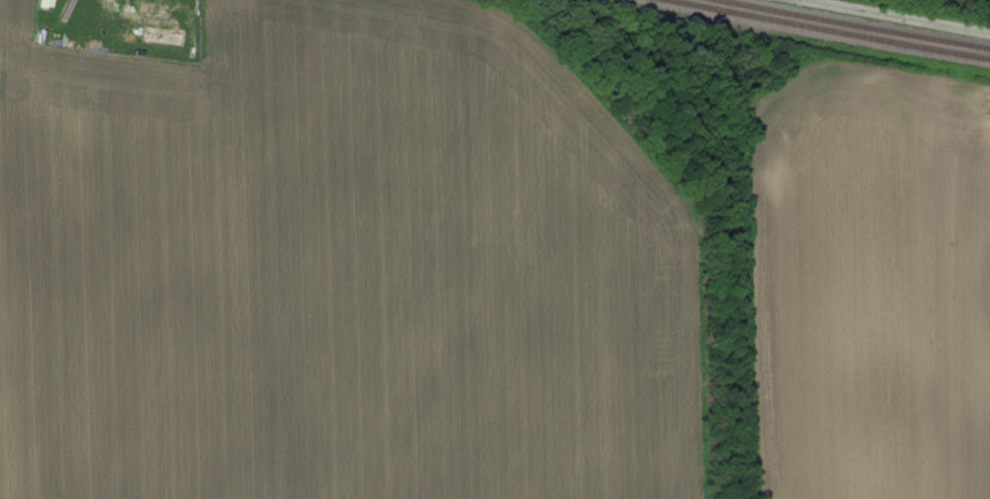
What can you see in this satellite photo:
road: (900, 16)
railway: (851, 23)
railway: (829, 29)

